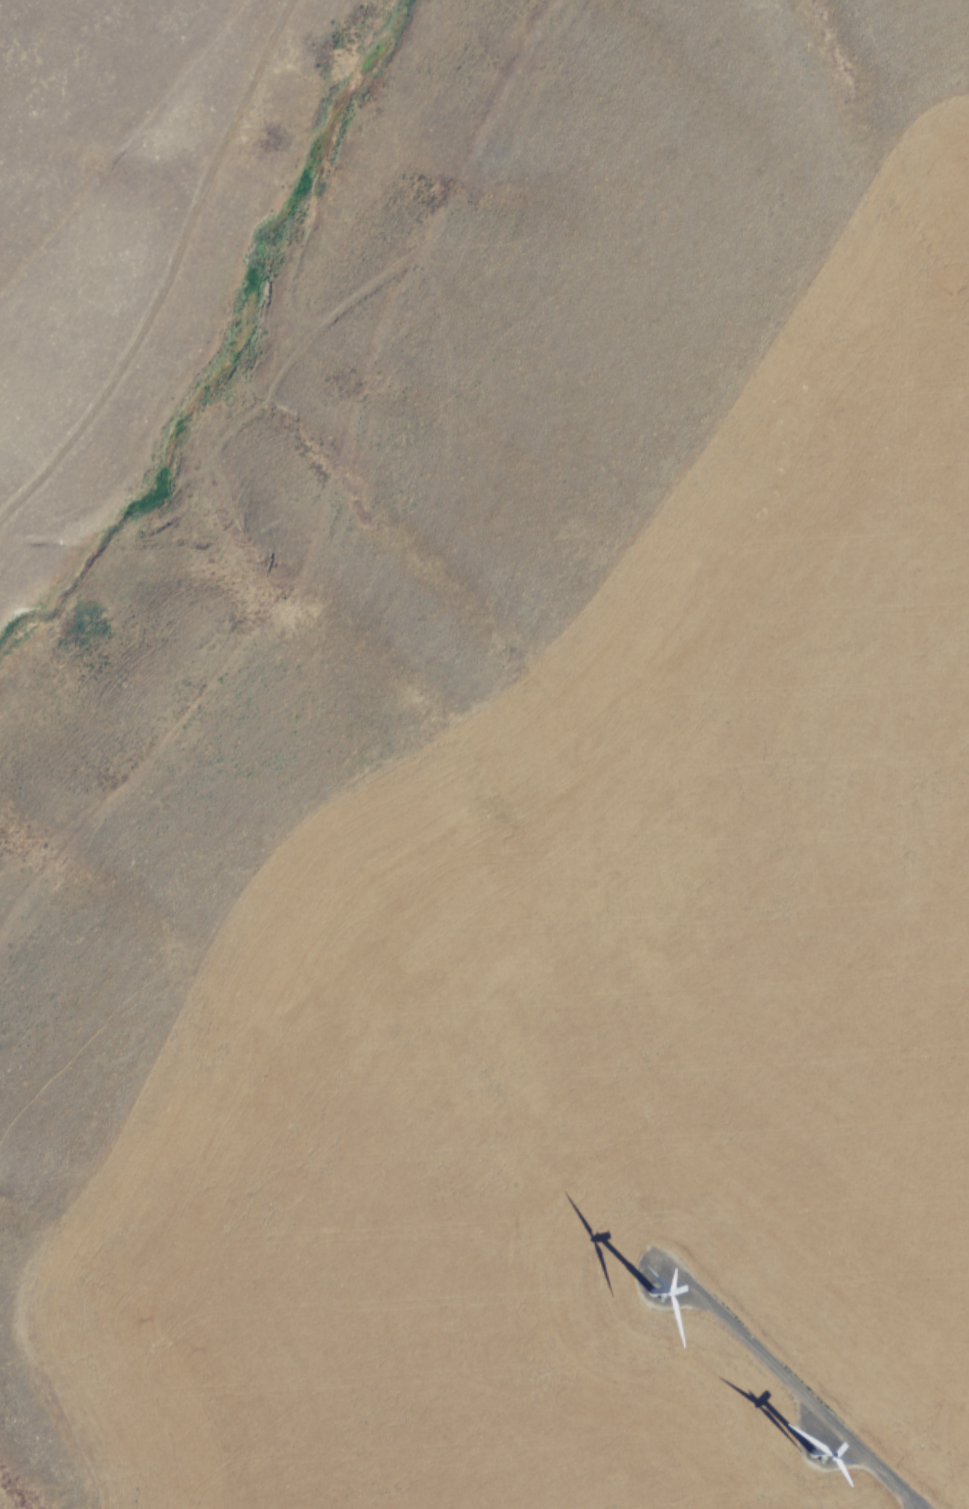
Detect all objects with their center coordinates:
wind turbine: (656, 1287)
road: (794, 1386)
wind turbine: (818, 1445)

